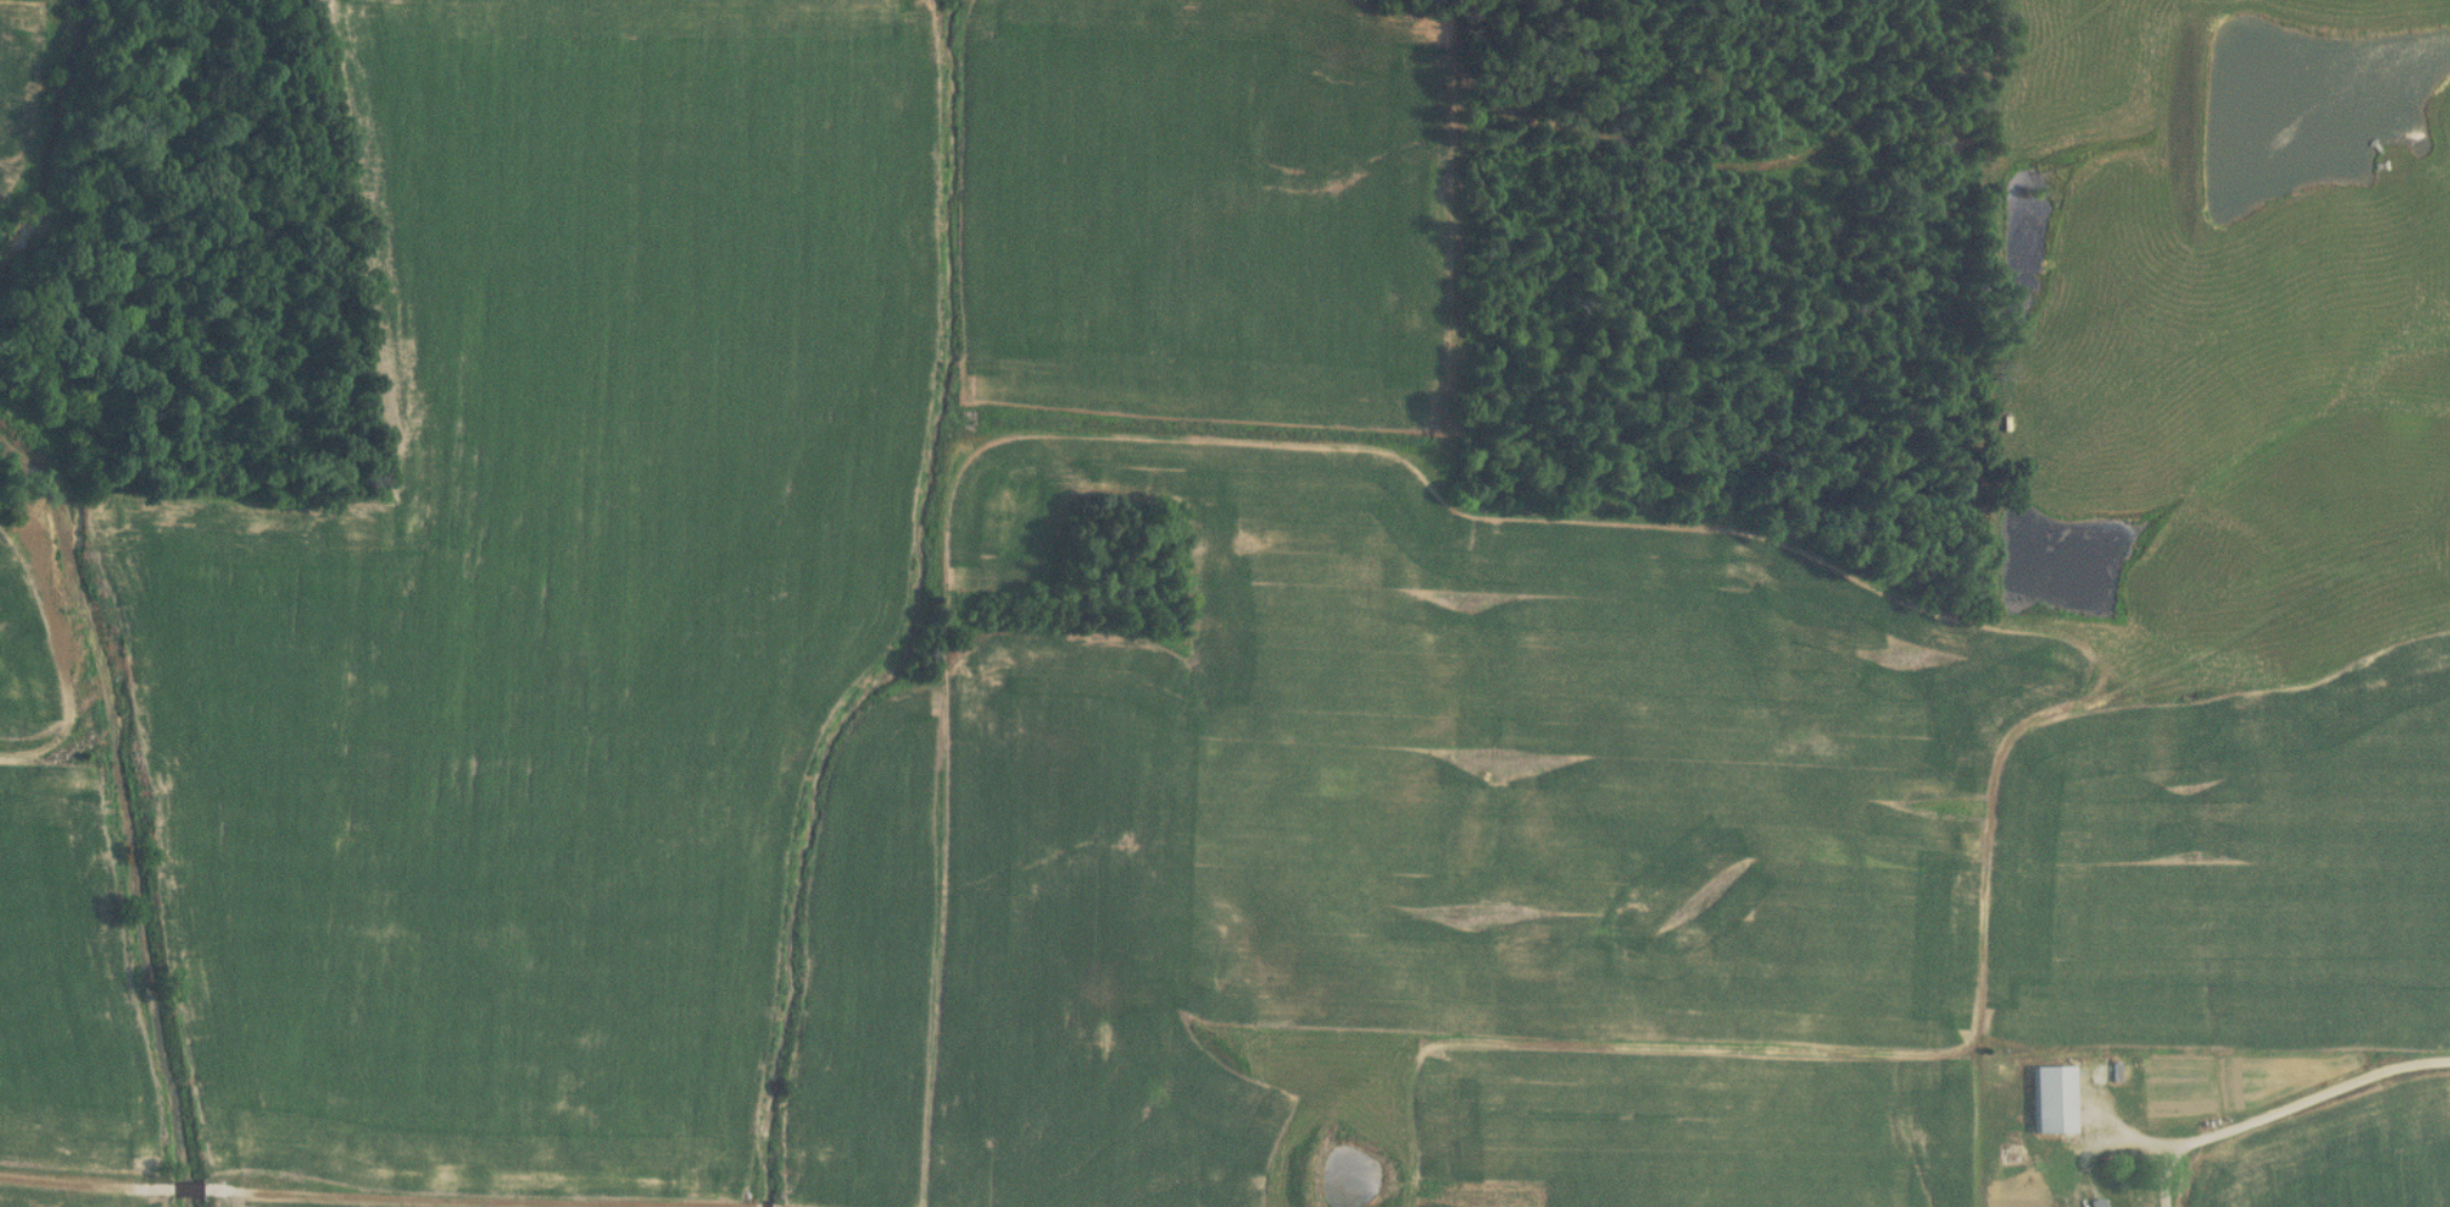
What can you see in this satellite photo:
building: (2050, 1103)
road: (2276, 1115)
road: (2165, 1176)
building: (2112, 1196)

